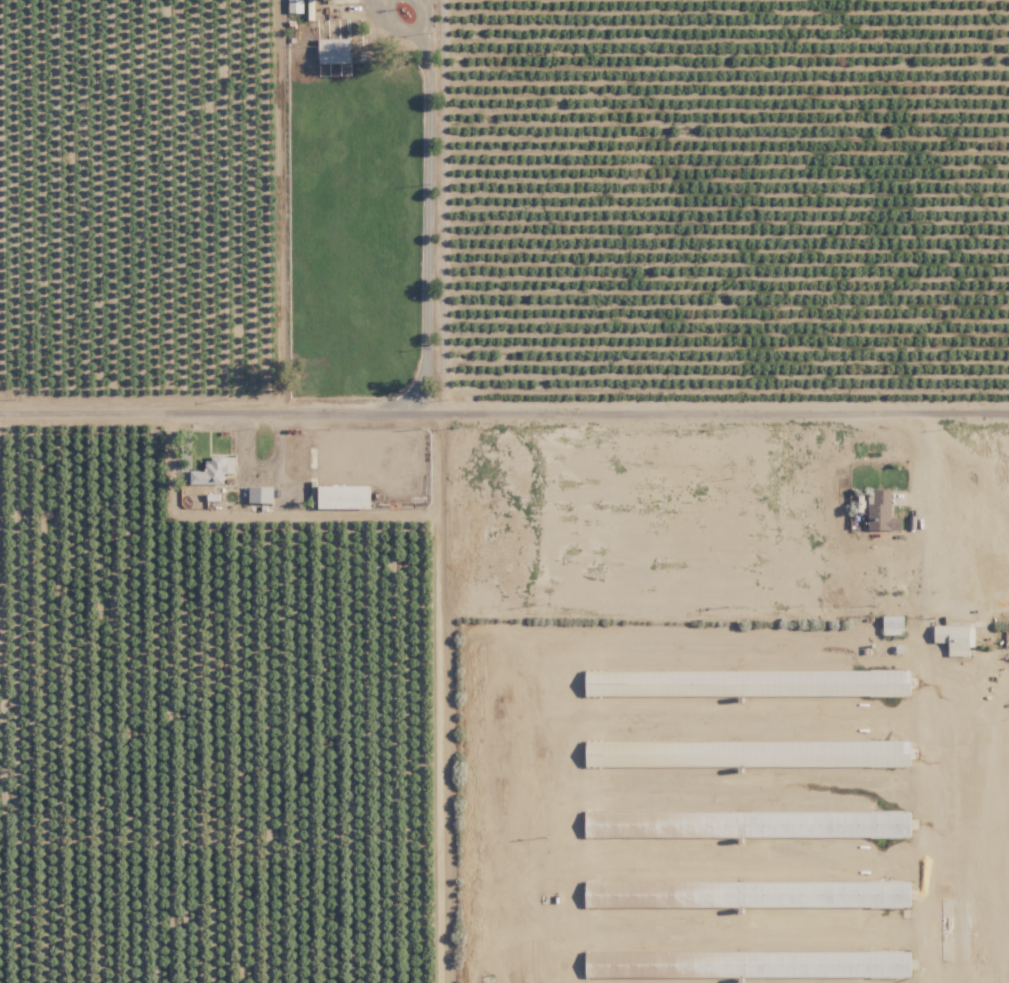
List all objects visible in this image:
building: (295, 6)
road: (422, 14)
road: (392, 24)
building: (334, 50)
crop: (724, 194)
road: (424, 217)
road: (504, 406)
road: (919, 456)
building: (212, 470)
building: (260, 493)
building: (344, 495)
building: (879, 508)
building: (890, 624)
building: (950, 637)
building: (741, 681)
crop: (719, 699)
building: (742, 751)
building: (743, 822)
building: (743, 892)
building: (743, 963)

